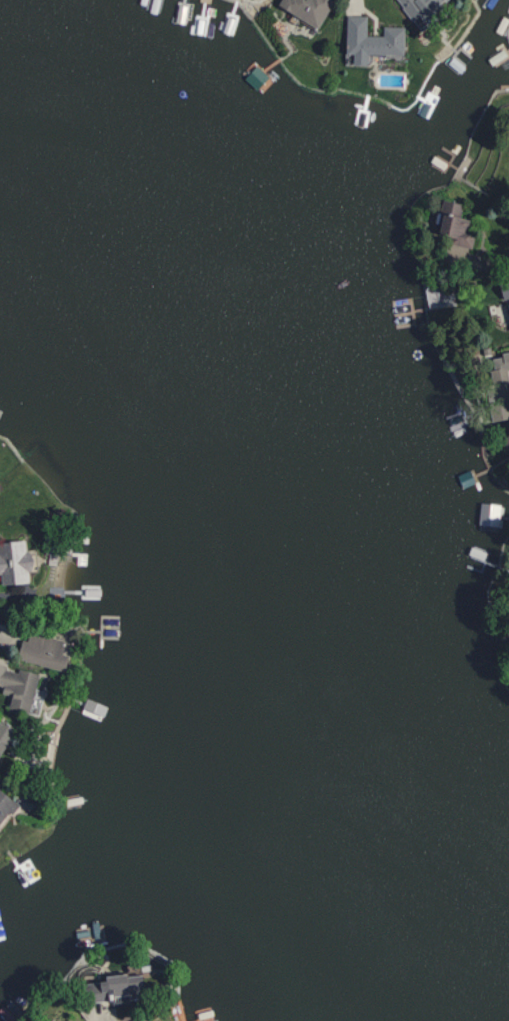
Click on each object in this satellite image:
building: (422, 8)
building: (309, 9)
building: (372, 39)
building: (456, 225)
road: (479, 259)
building: (505, 289)
building: (508, 304)
building: (500, 385)
building: (17, 562)
building: (45, 650)
building: (18, 686)
building: (38, 702)
building: (5, 735)
building: (7, 804)
building: (117, 989)
road: (98, 1018)
building: (147, 1019)
building: (70, 1020)

